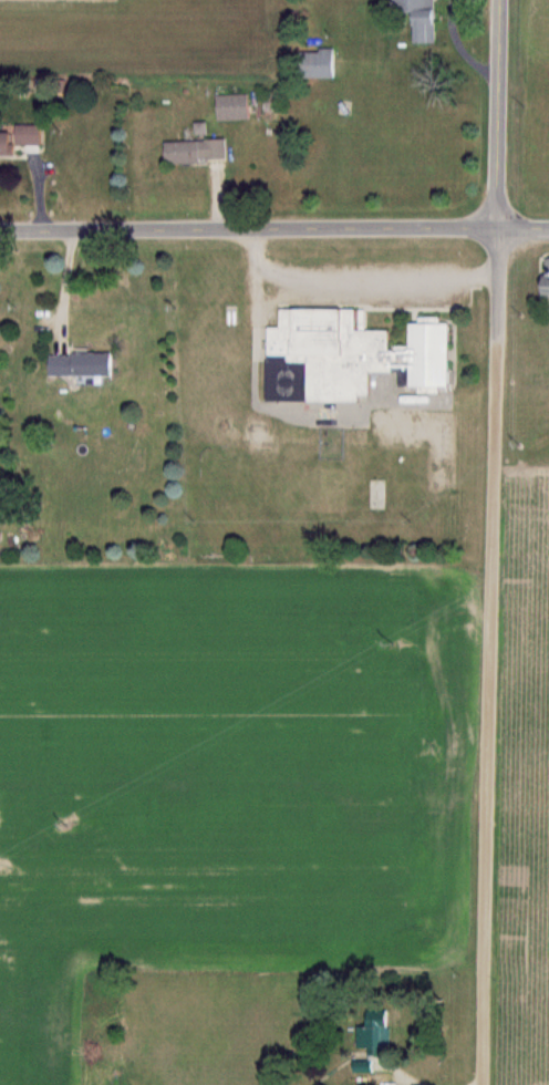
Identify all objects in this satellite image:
building: (425, 19)
road: (463, 46)
building: (323, 61)
building: (235, 104)
building: (22, 137)
building: (198, 148)
road: (499, 170)
road: (274, 230)
road: (358, 270)
building: (548, 280)
building: (353, 352)
building: (83, 362)
road: (284, 407)
road: (486, 713)
building: (376, 1037)

